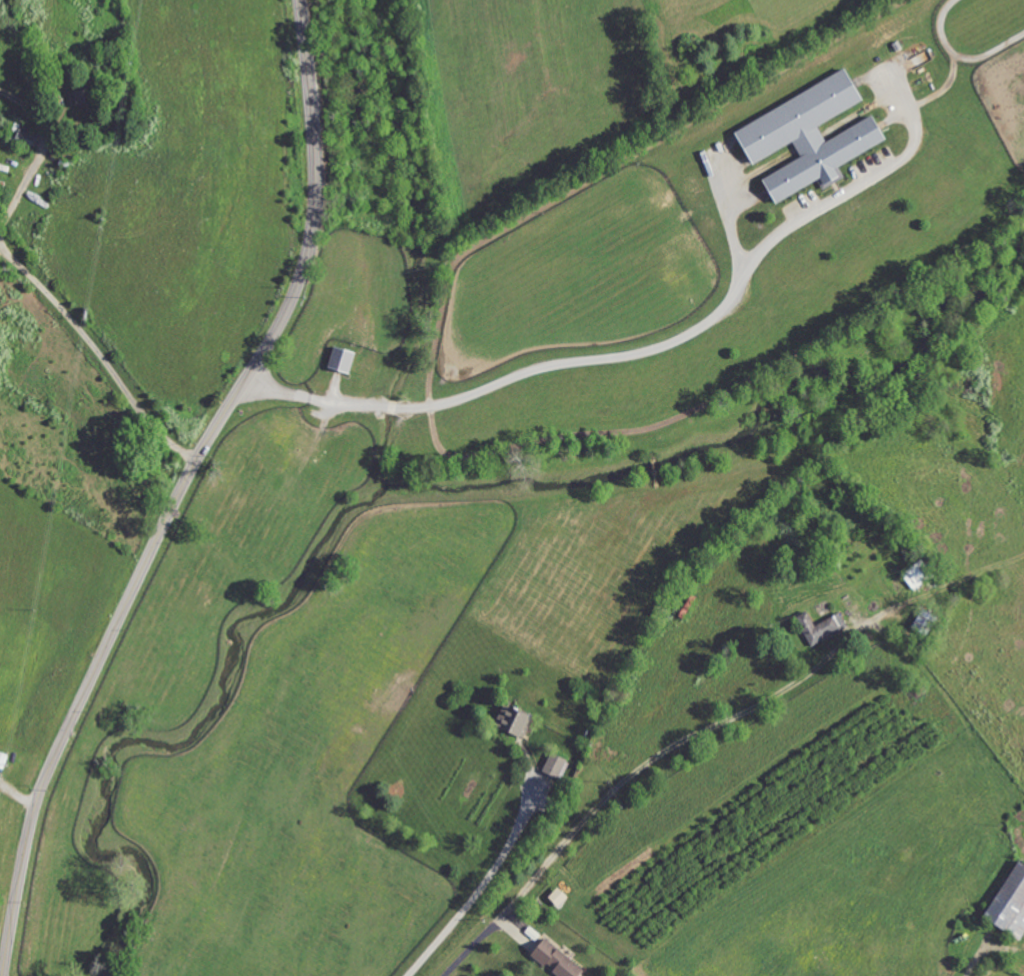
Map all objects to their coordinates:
building: (27, 135)
building: (815, 136)
road: (40, 286)
building: (346, 361)
road: (592, 362)
road: (313, 399)
road: (390, 410)
road: (183, 489)
building: (920, 574)
building: (824, 627)
building: (518, 719)
road: (707, 726)
building: (558, 765)
road: (483, 884)
road: (986, 945)
building: (560, 960)

